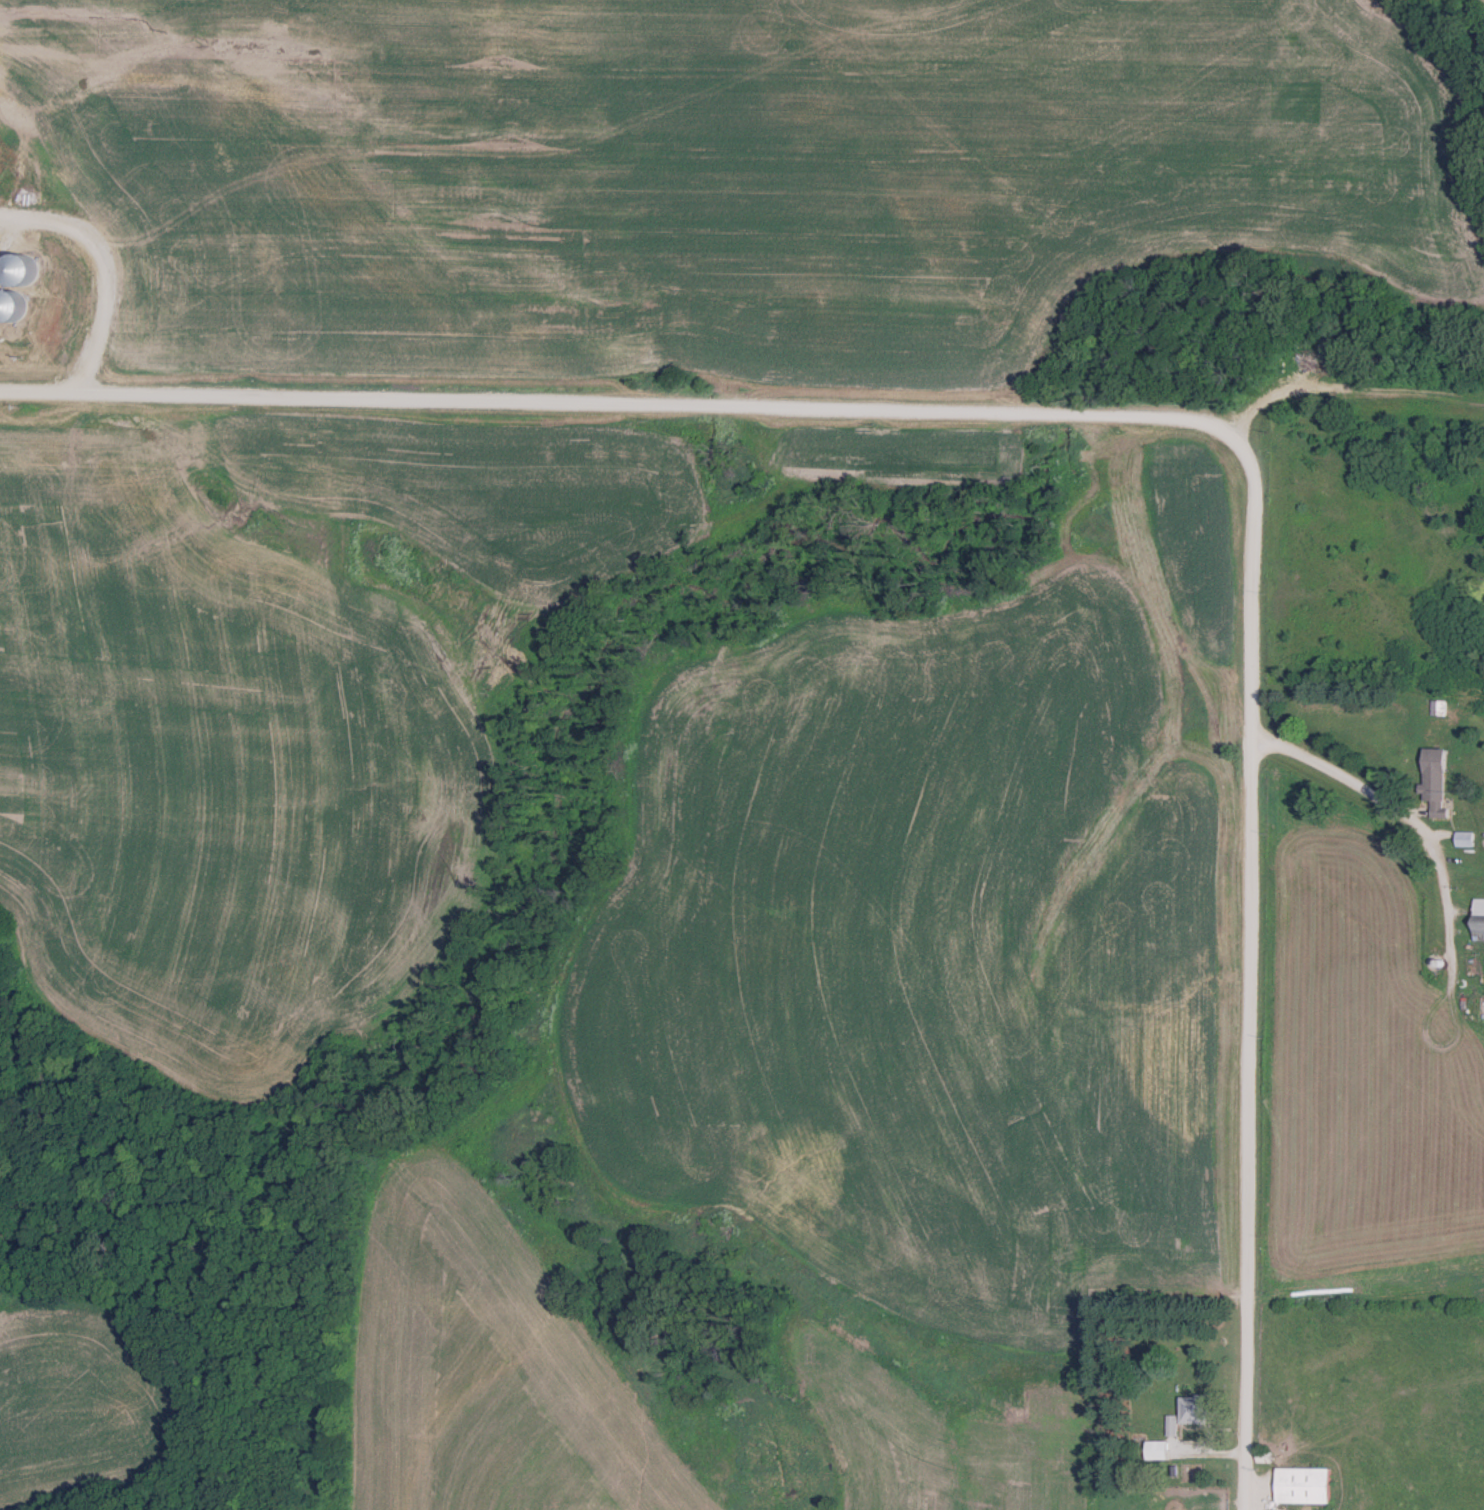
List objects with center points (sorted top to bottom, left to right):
building: (19, 262)
storage tank: (19, 262)
building: (10, 298)
storage tank: (10, 298)
road: (1157, 416)
road: (1348, 779)
building: (1432, 779)
building: (1462, 839)
building: (1476, 919)
building: (1476, 1008)
building: (1183, 1415)
building: (1300, 1486)

